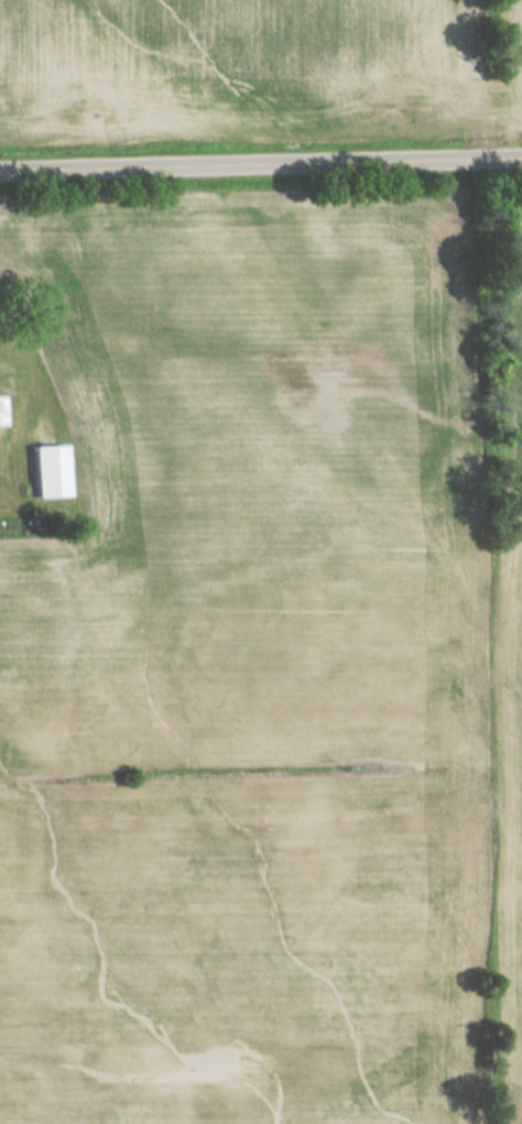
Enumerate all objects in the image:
road: (261, 165)
building: (0, 427)

